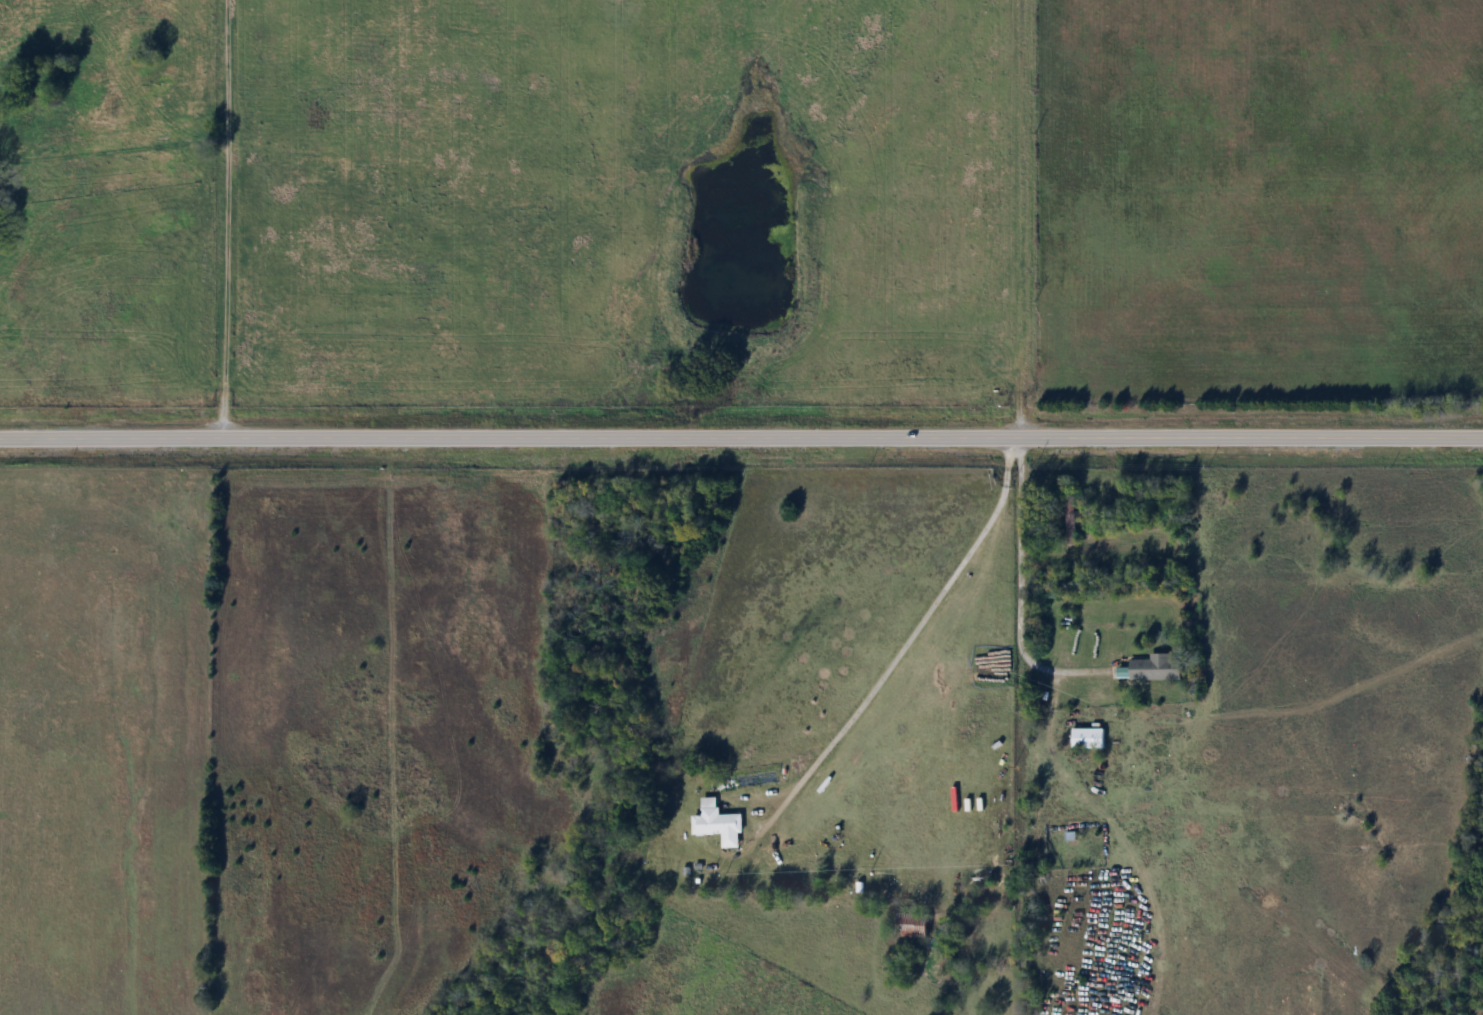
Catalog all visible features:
road: (1025, 219)
road: (741, 439)
building: (1069, 523)
road: (1023, 610)
road: (904, 655)
building: (1156, 669)
building: (1088, 738)
building: (718, 824)
building: (912, 926)
road: (645, 1003)

